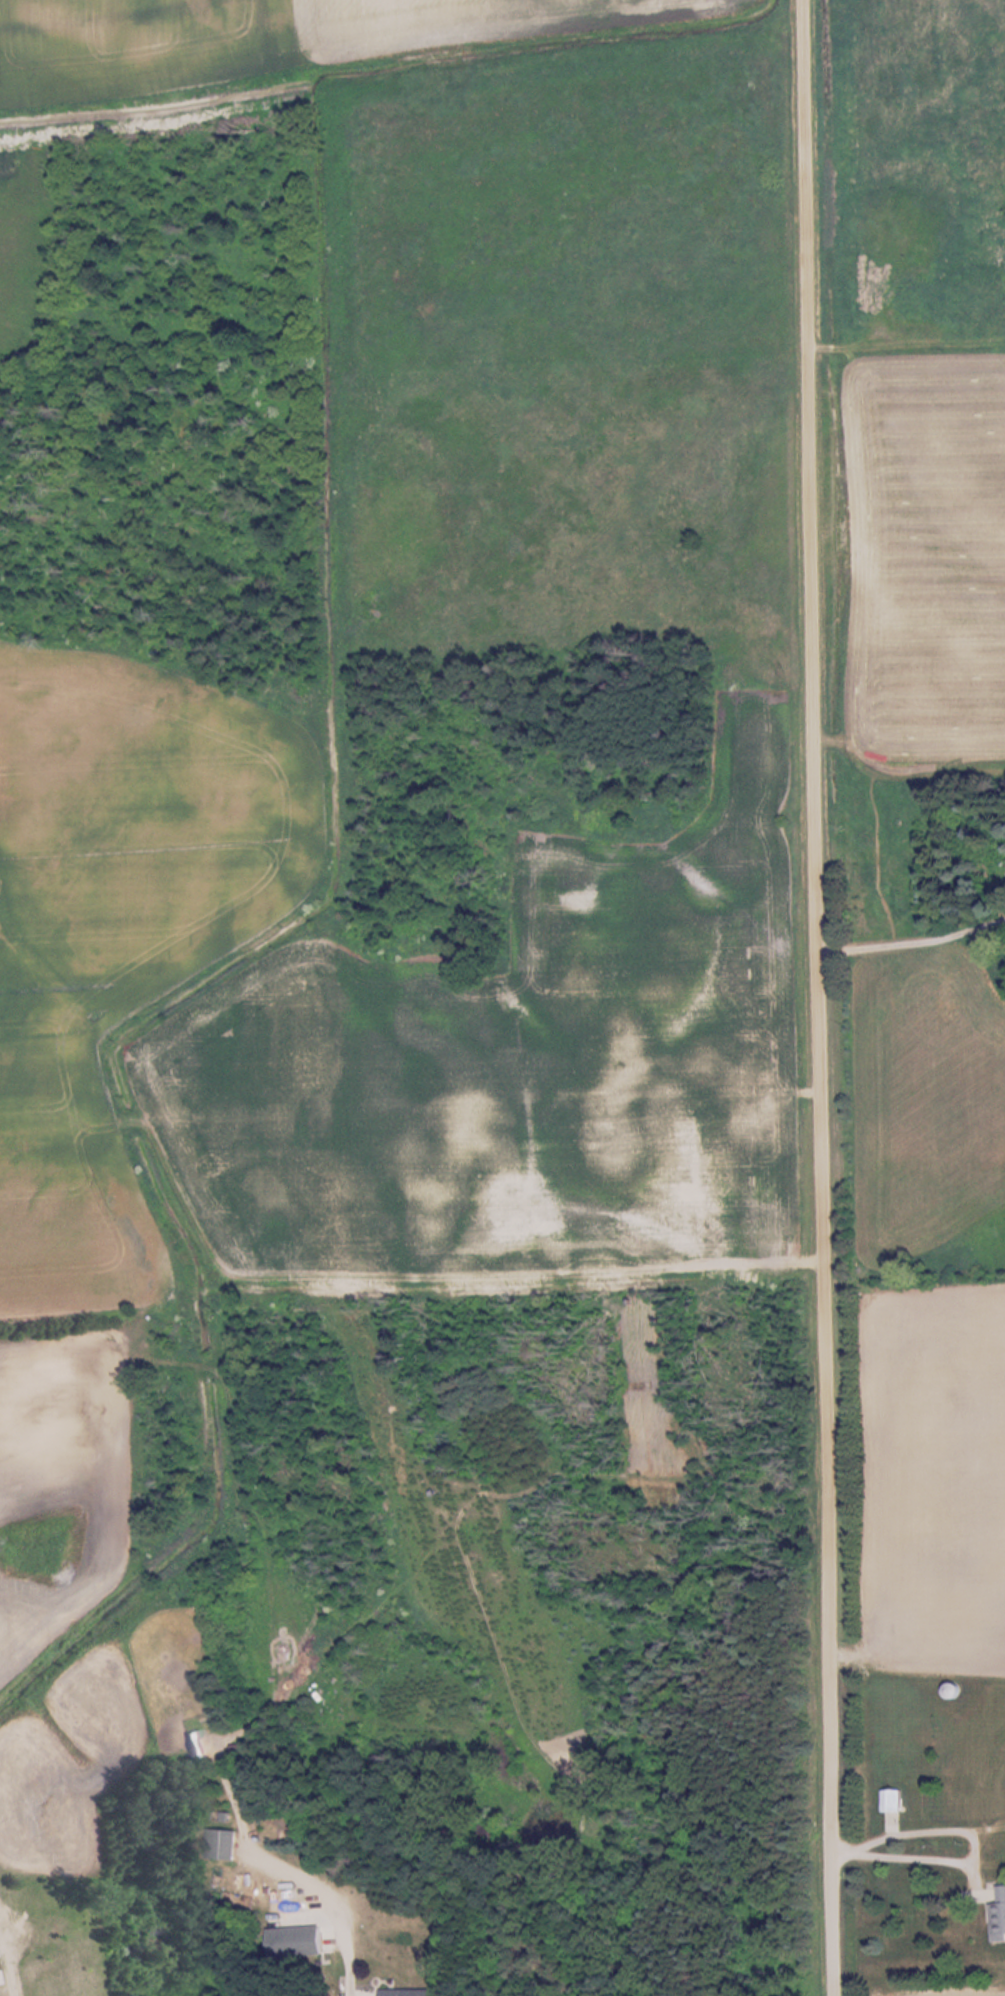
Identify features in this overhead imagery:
road: (816, 998)
building: (197, 1747)
building: (241, 1752)
building: (898, 1801)
building: (225, 1845)
building: (1002, 1923)
building: (302, 1942)
building: (418, 1992)

